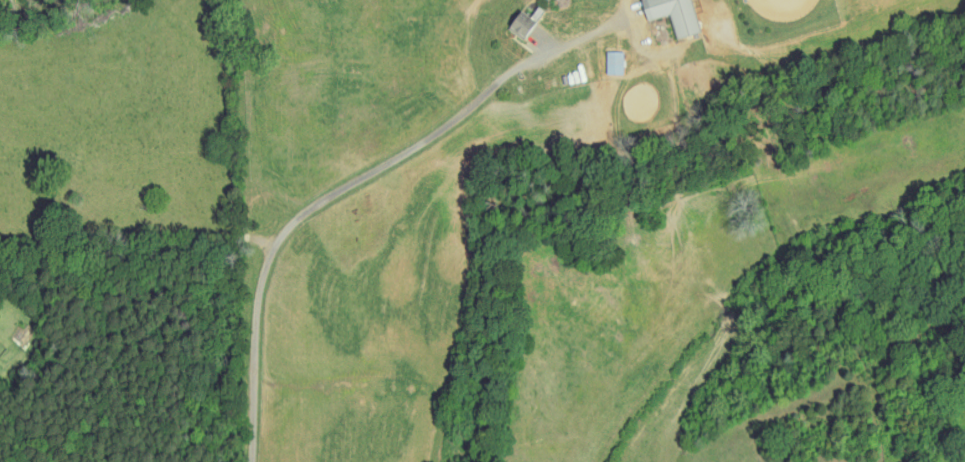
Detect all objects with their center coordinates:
building: (672, 14)
building: (521, 22)
building: (613, 62)
road: (434, 132)
road: (250, 364)

